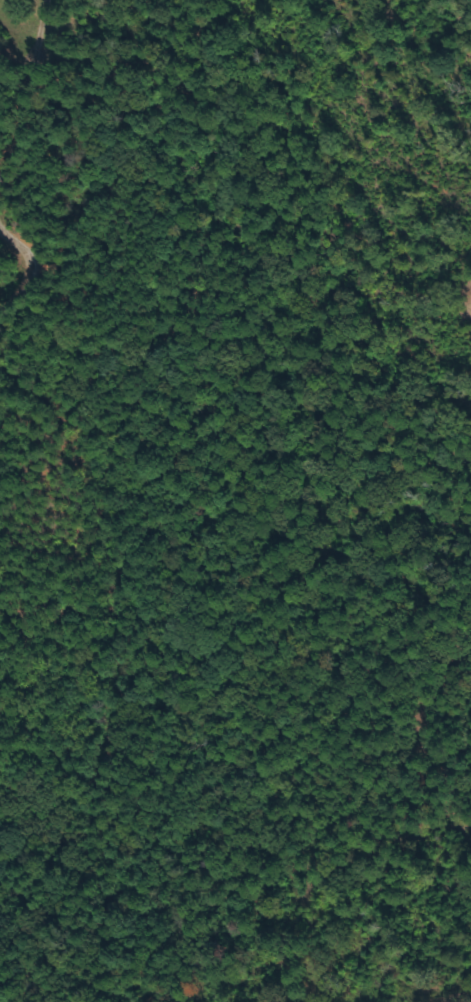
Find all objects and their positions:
road: (23, 78)

